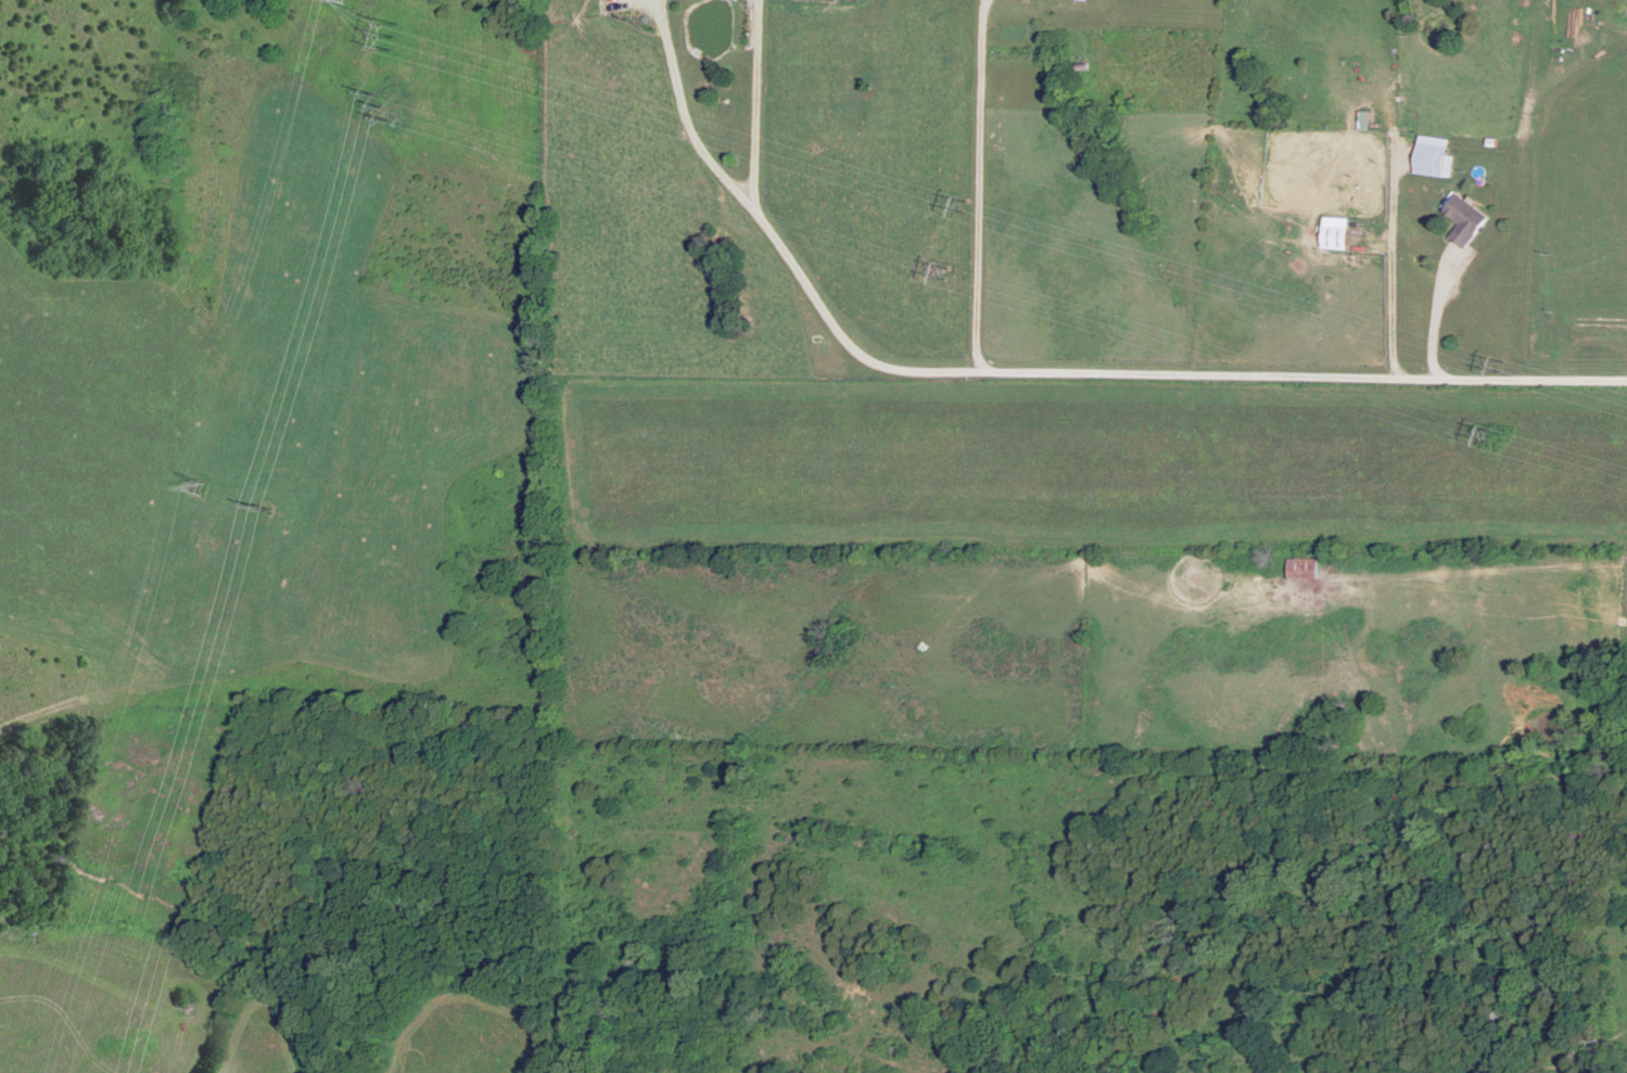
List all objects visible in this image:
road: (757, 103)
road: (977, 187)
building: (1469, 217)
building: (1339, 235)
road: (1402, 268)
road: (1446, 320)
building: (1601, 320)
road: (1031, 374)
building: (1306, 567)

